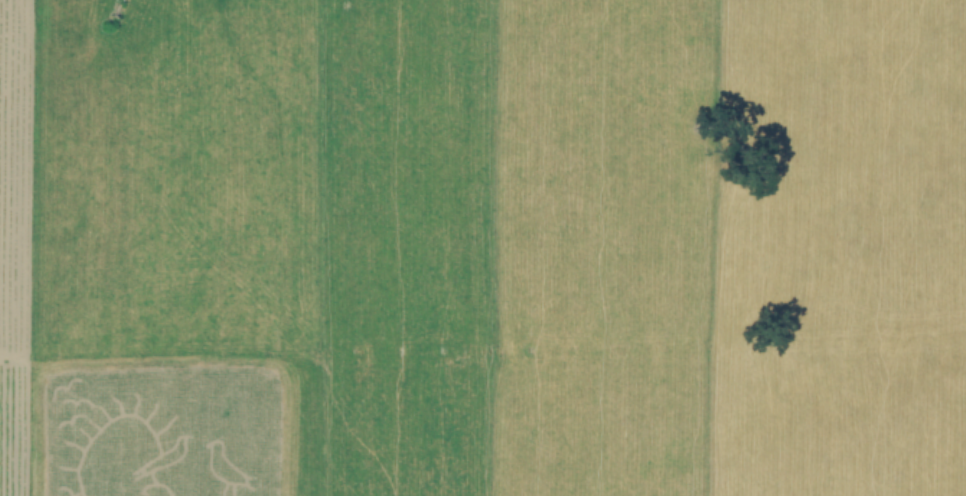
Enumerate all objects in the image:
crop: (483, 248)

